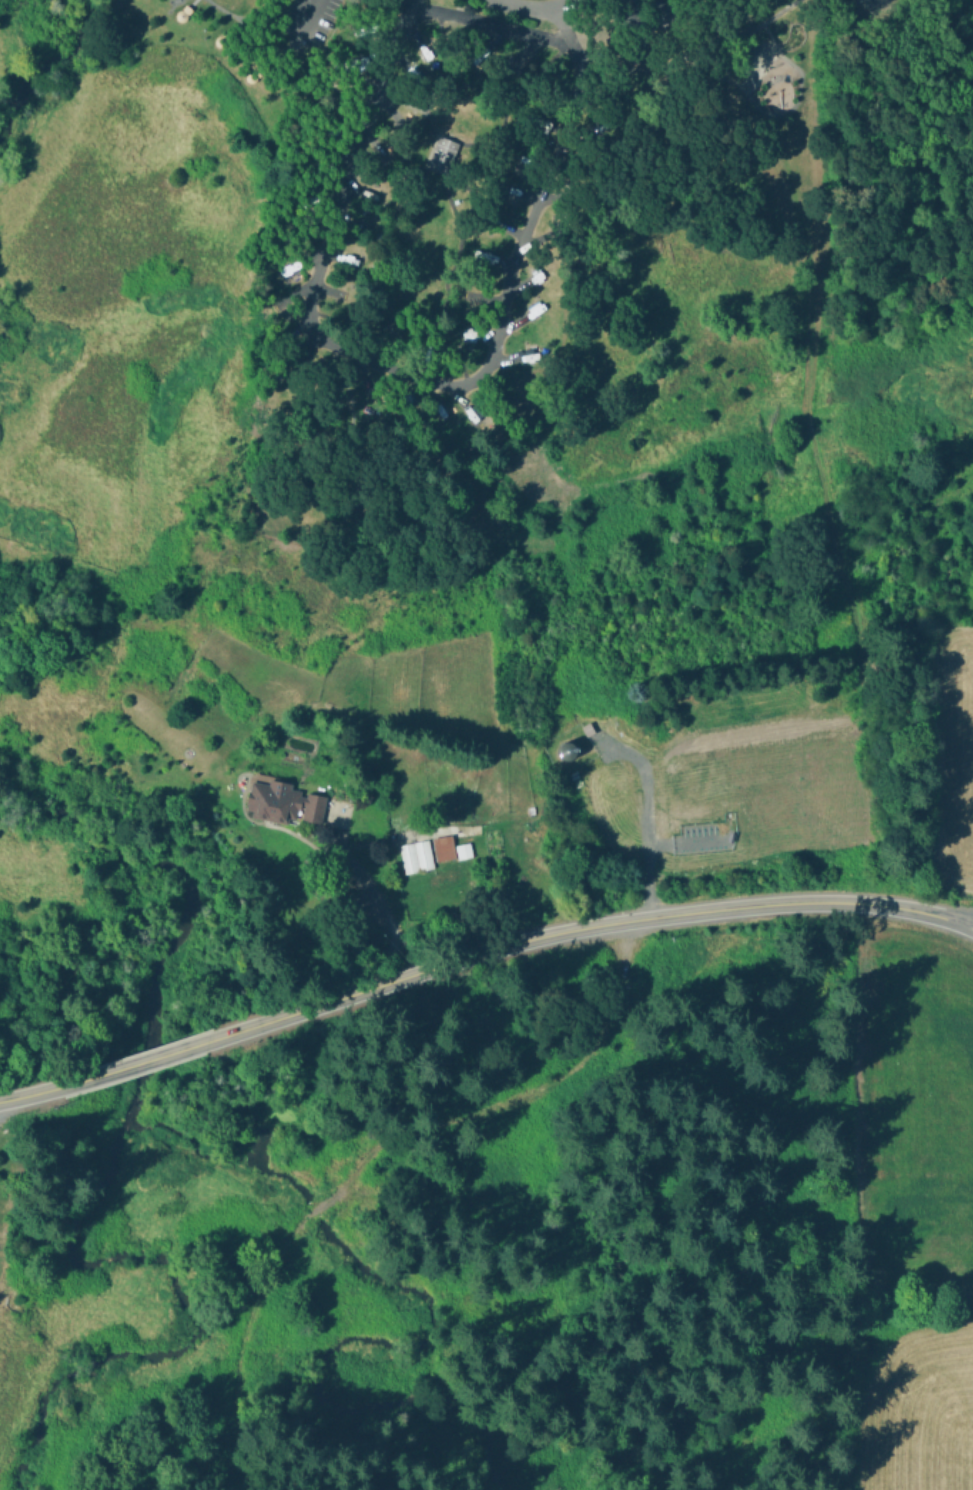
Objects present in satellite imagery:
road: (539, 1)
road: (308, 14)
road: (491, 22)
road: (695, 45)
building: (599, 128)
building: (442, 153)
building: (521, 167)
road: (418, 376)
building: (371, 389)
building: (567, 751)
building: (282, 803)
building: (442, 848)
building: (463, 850)
building: (415, 856)
road: (763, 903)
road: (385, 913)
road: (946, 918)
road: (963, 921)
road: (963, 925)
road: (427, 969)
building: (652, 969)
road: (174, 1050)
road: (40, 1091)
crop: (921, 1399)

